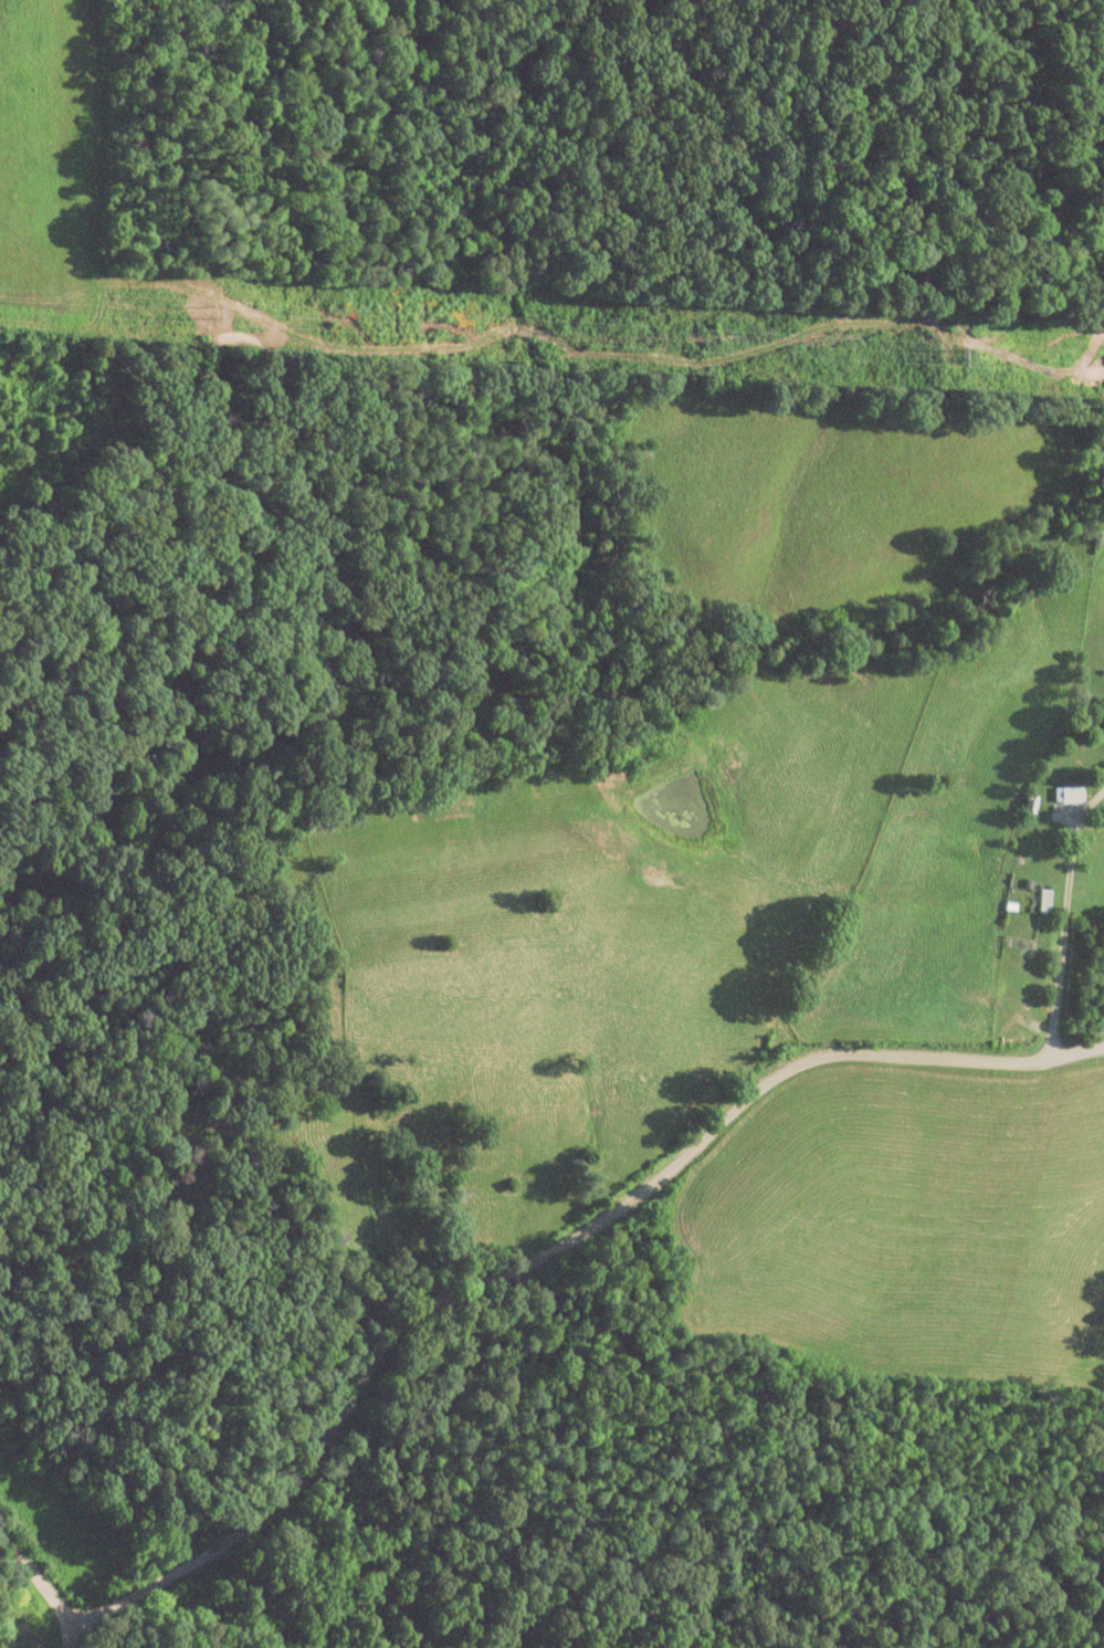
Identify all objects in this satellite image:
power tower: (215, 313)
power tower: (963, 355)
building: (1075, 794)
building: (1047, 901)
road: (1062, 917)
road: (545, 1241)
road: (35, 1588)
road: (65, 1635)

